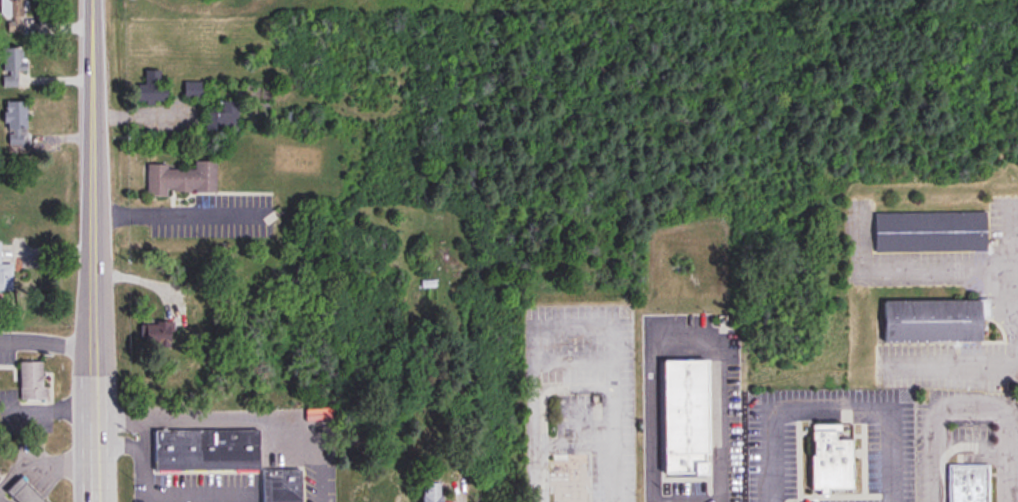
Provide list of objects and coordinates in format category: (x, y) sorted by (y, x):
building: (12, 14)
building: (11, 66)
building: (151, 88)
building: (192, 90)
building: (223, 118)
building: (291, 120)
building: (15, 124)
building: (181, 179)
road: (176, 212)
building: (929, 232)
road: (1013, 233)
road: (93, 251)
building: (5, 278)
building: (930, 321)
building: (156, 334)
road: (47, 343)
road: (714, 346)
road: (1003, 361)
building: (31, 382)
road: (577, 388)
road: (828, 404)
road: (967, 405)
road: (49, 410)
road: (120, 416)
road: (271, 416)
building: (685, 417)
road: (144, 431)
road: (119, 445)
building: (205, 451)
building: (829, 459)
road: (43, 463)
road: (146, 474)
building: (569, 477)
building: (968, 484)
building: (280, 485)
building: (21, 492)
building: (431, 492)
building: (378, 496)

